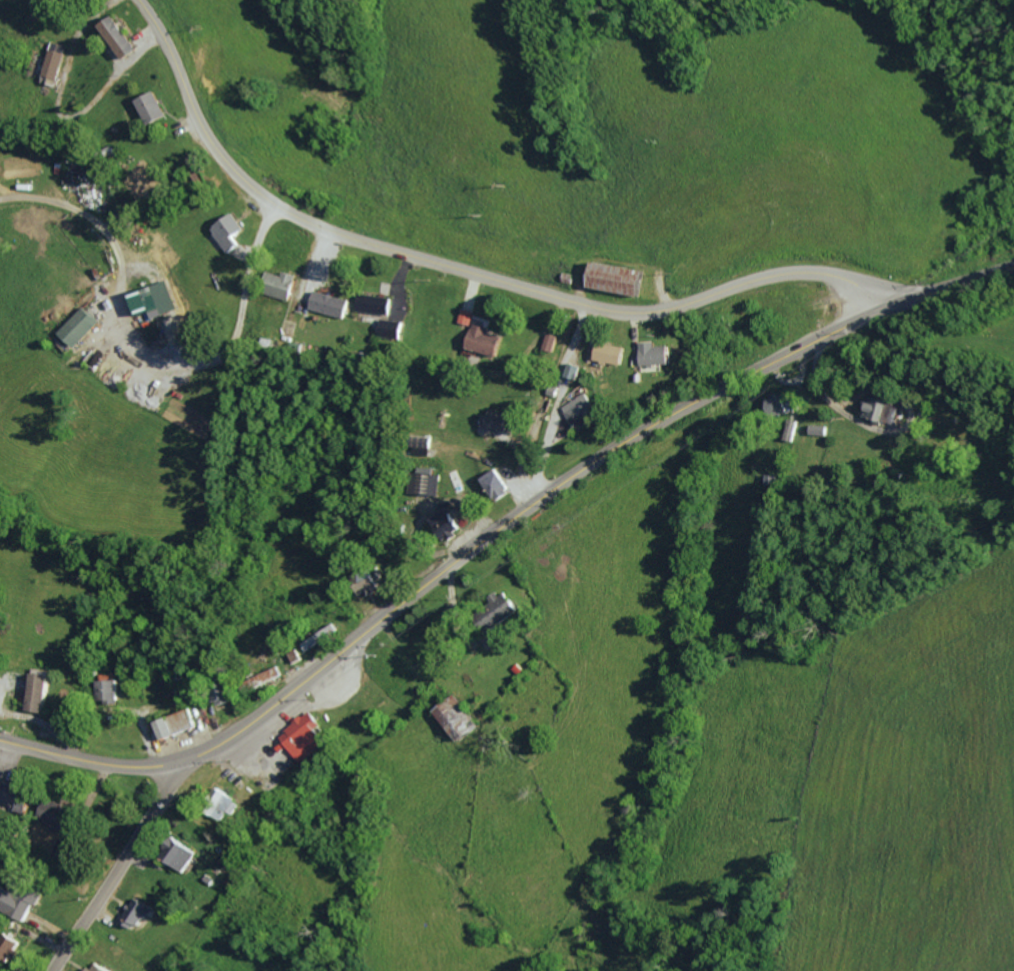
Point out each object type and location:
building: (118, 37)
building: (50, 60)
building: (45, 81)
building: (152, 108)
building: (229, 232)
road: (452, 270)
building: (621, 279)
building: (283, 285)
building: (153, 300)
building: (332, 304)
building: (376, 304)
building: (465, 316)
building: (76, 327)
building: (392, 329)
building: (484, 341)
building: (550, 342)
building: (611, 354)
building: (656, 354)
building: (572, 371)
road: (560, 395)
building: (778, 406)
building: (880, 408)
building: (582, 411)
building: (498, 420)
building: (422, 482)
building: (496, 484)
building: (447, 521)
road: (500, 529)
building: (370, 581)
building: (506, 608)
building: (271, 677)
building: (43, 690)
building: (110, 691)
building: (225, 696)
building: (461, 717)
building: (183, 723)
building: (309, 736)
building: (25, 796)
building: (233, 805)
building: (65, 815)
building: (188, 853)
road: (115, 861)
building: (28, 897)
building: (145, 912)
building: (13, 946)
building: (103, 968)
building: (1, 969)

